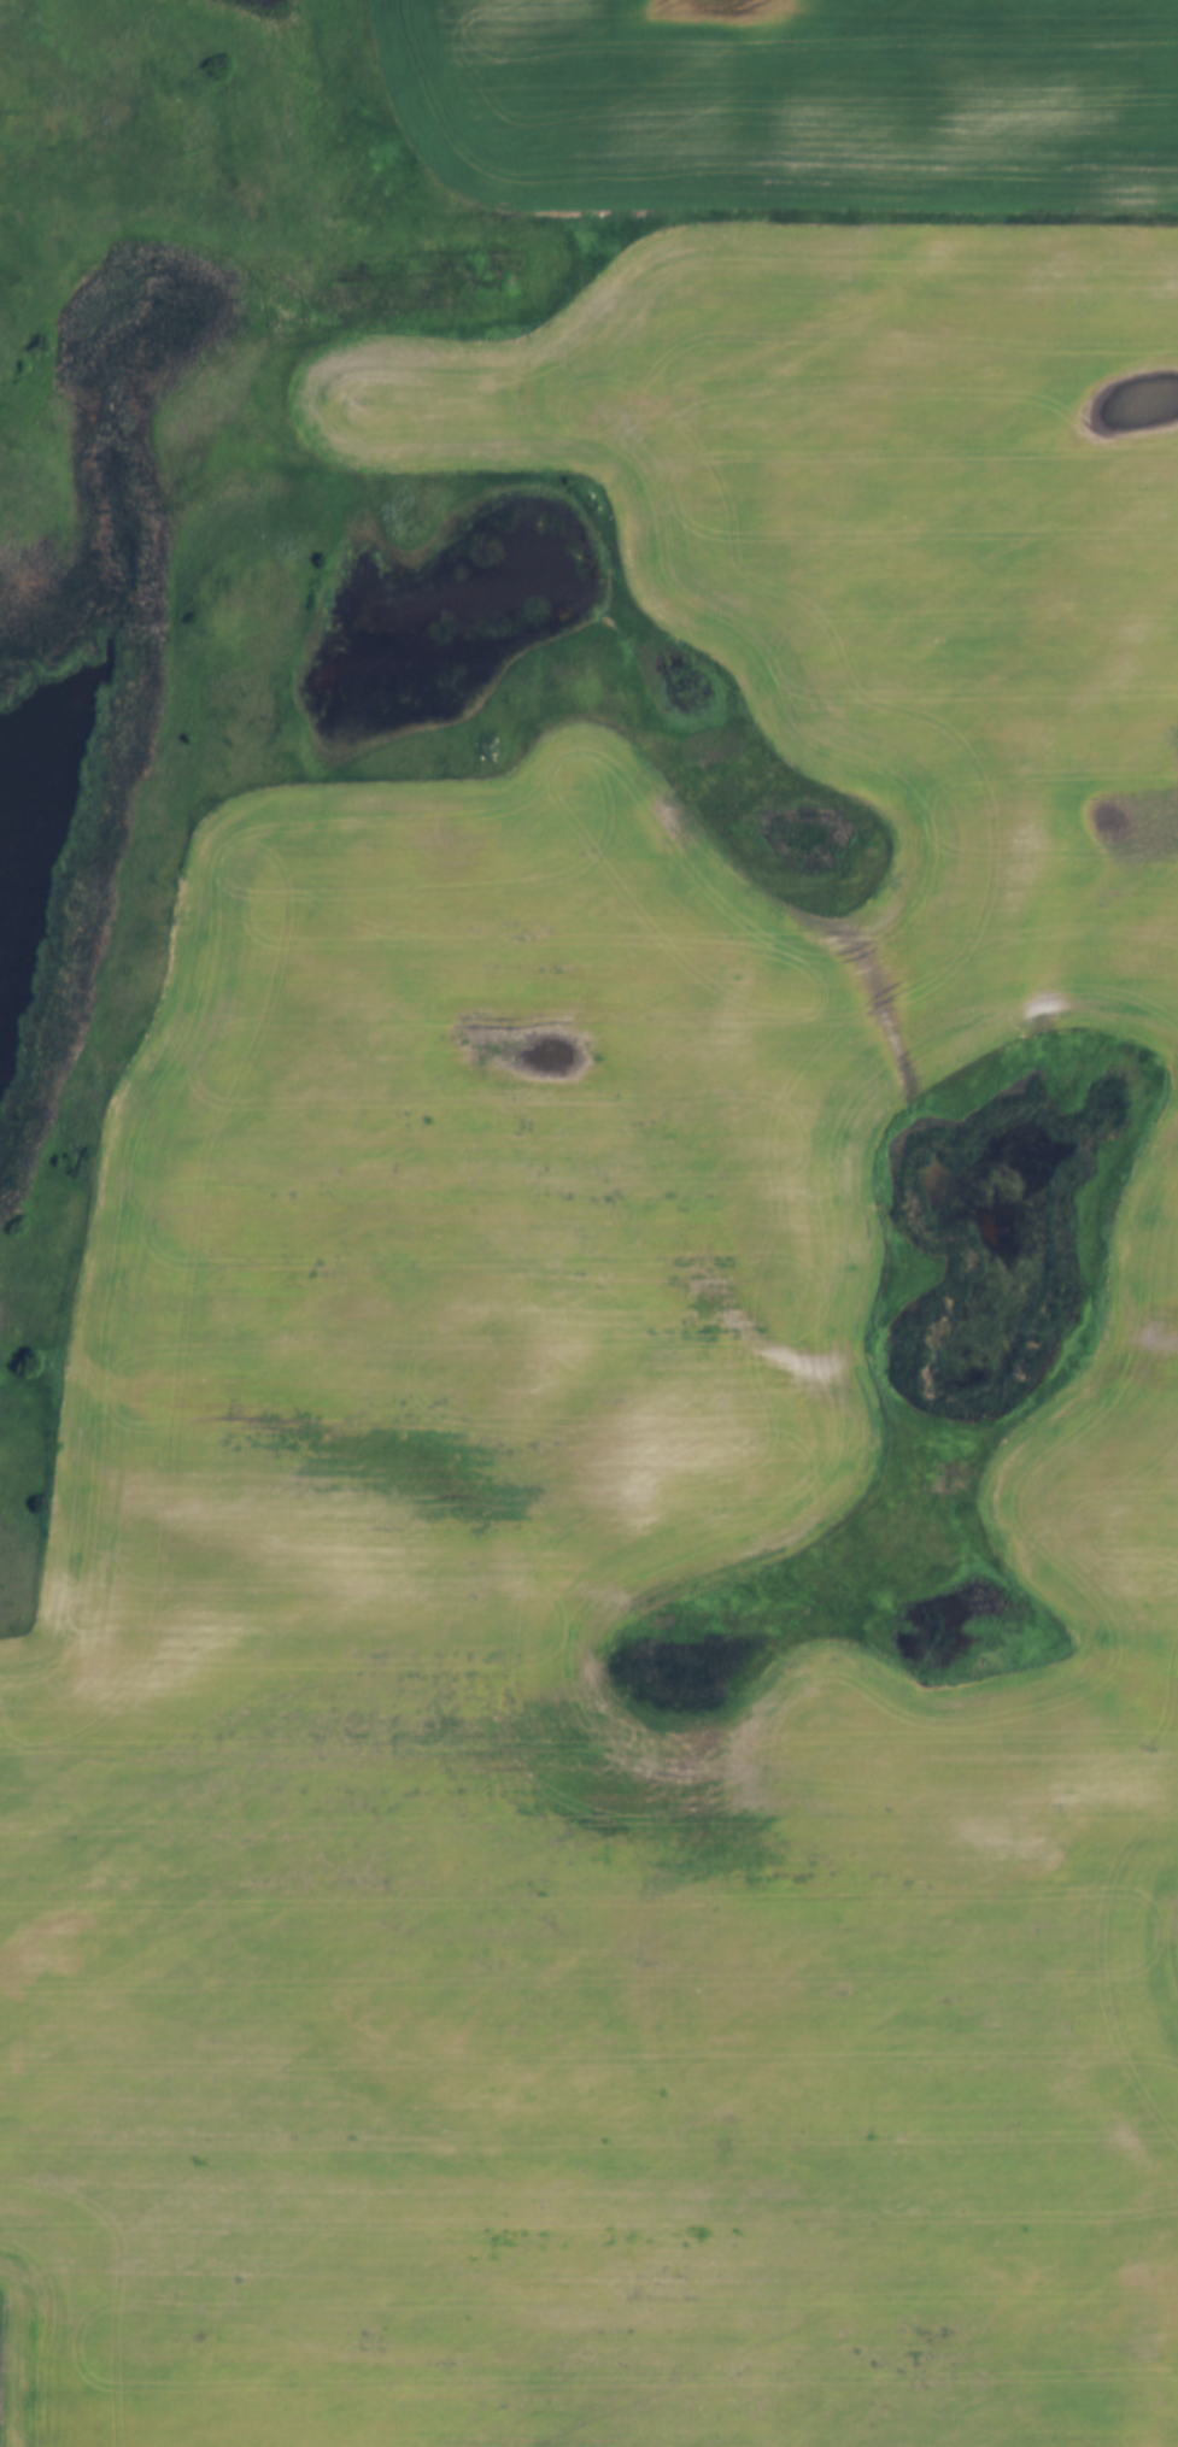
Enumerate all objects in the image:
park: (0, 2361)

